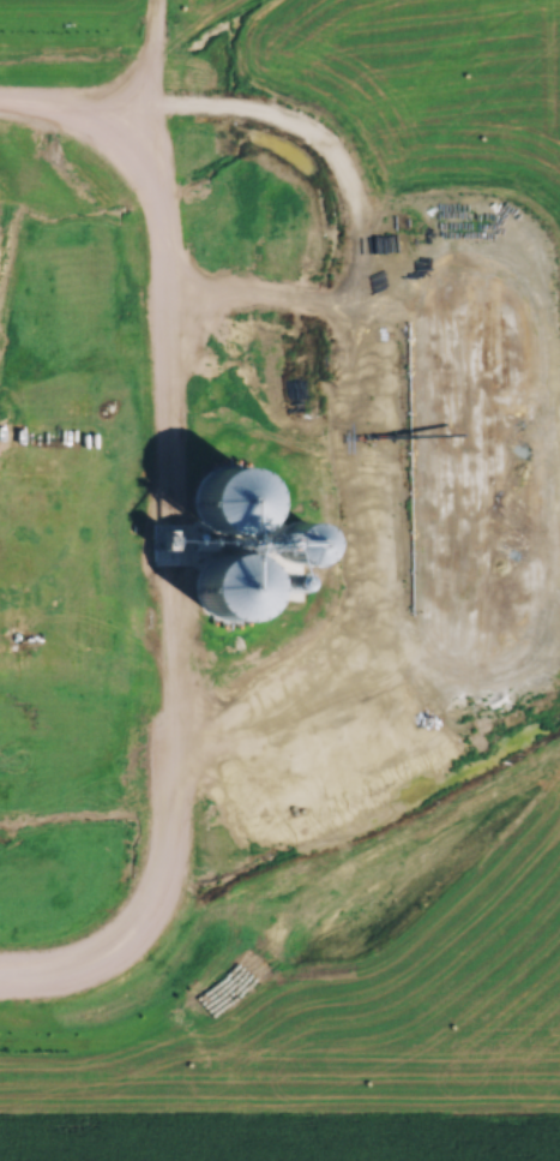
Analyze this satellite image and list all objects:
road: (114, 98)
building: (209, 603)

